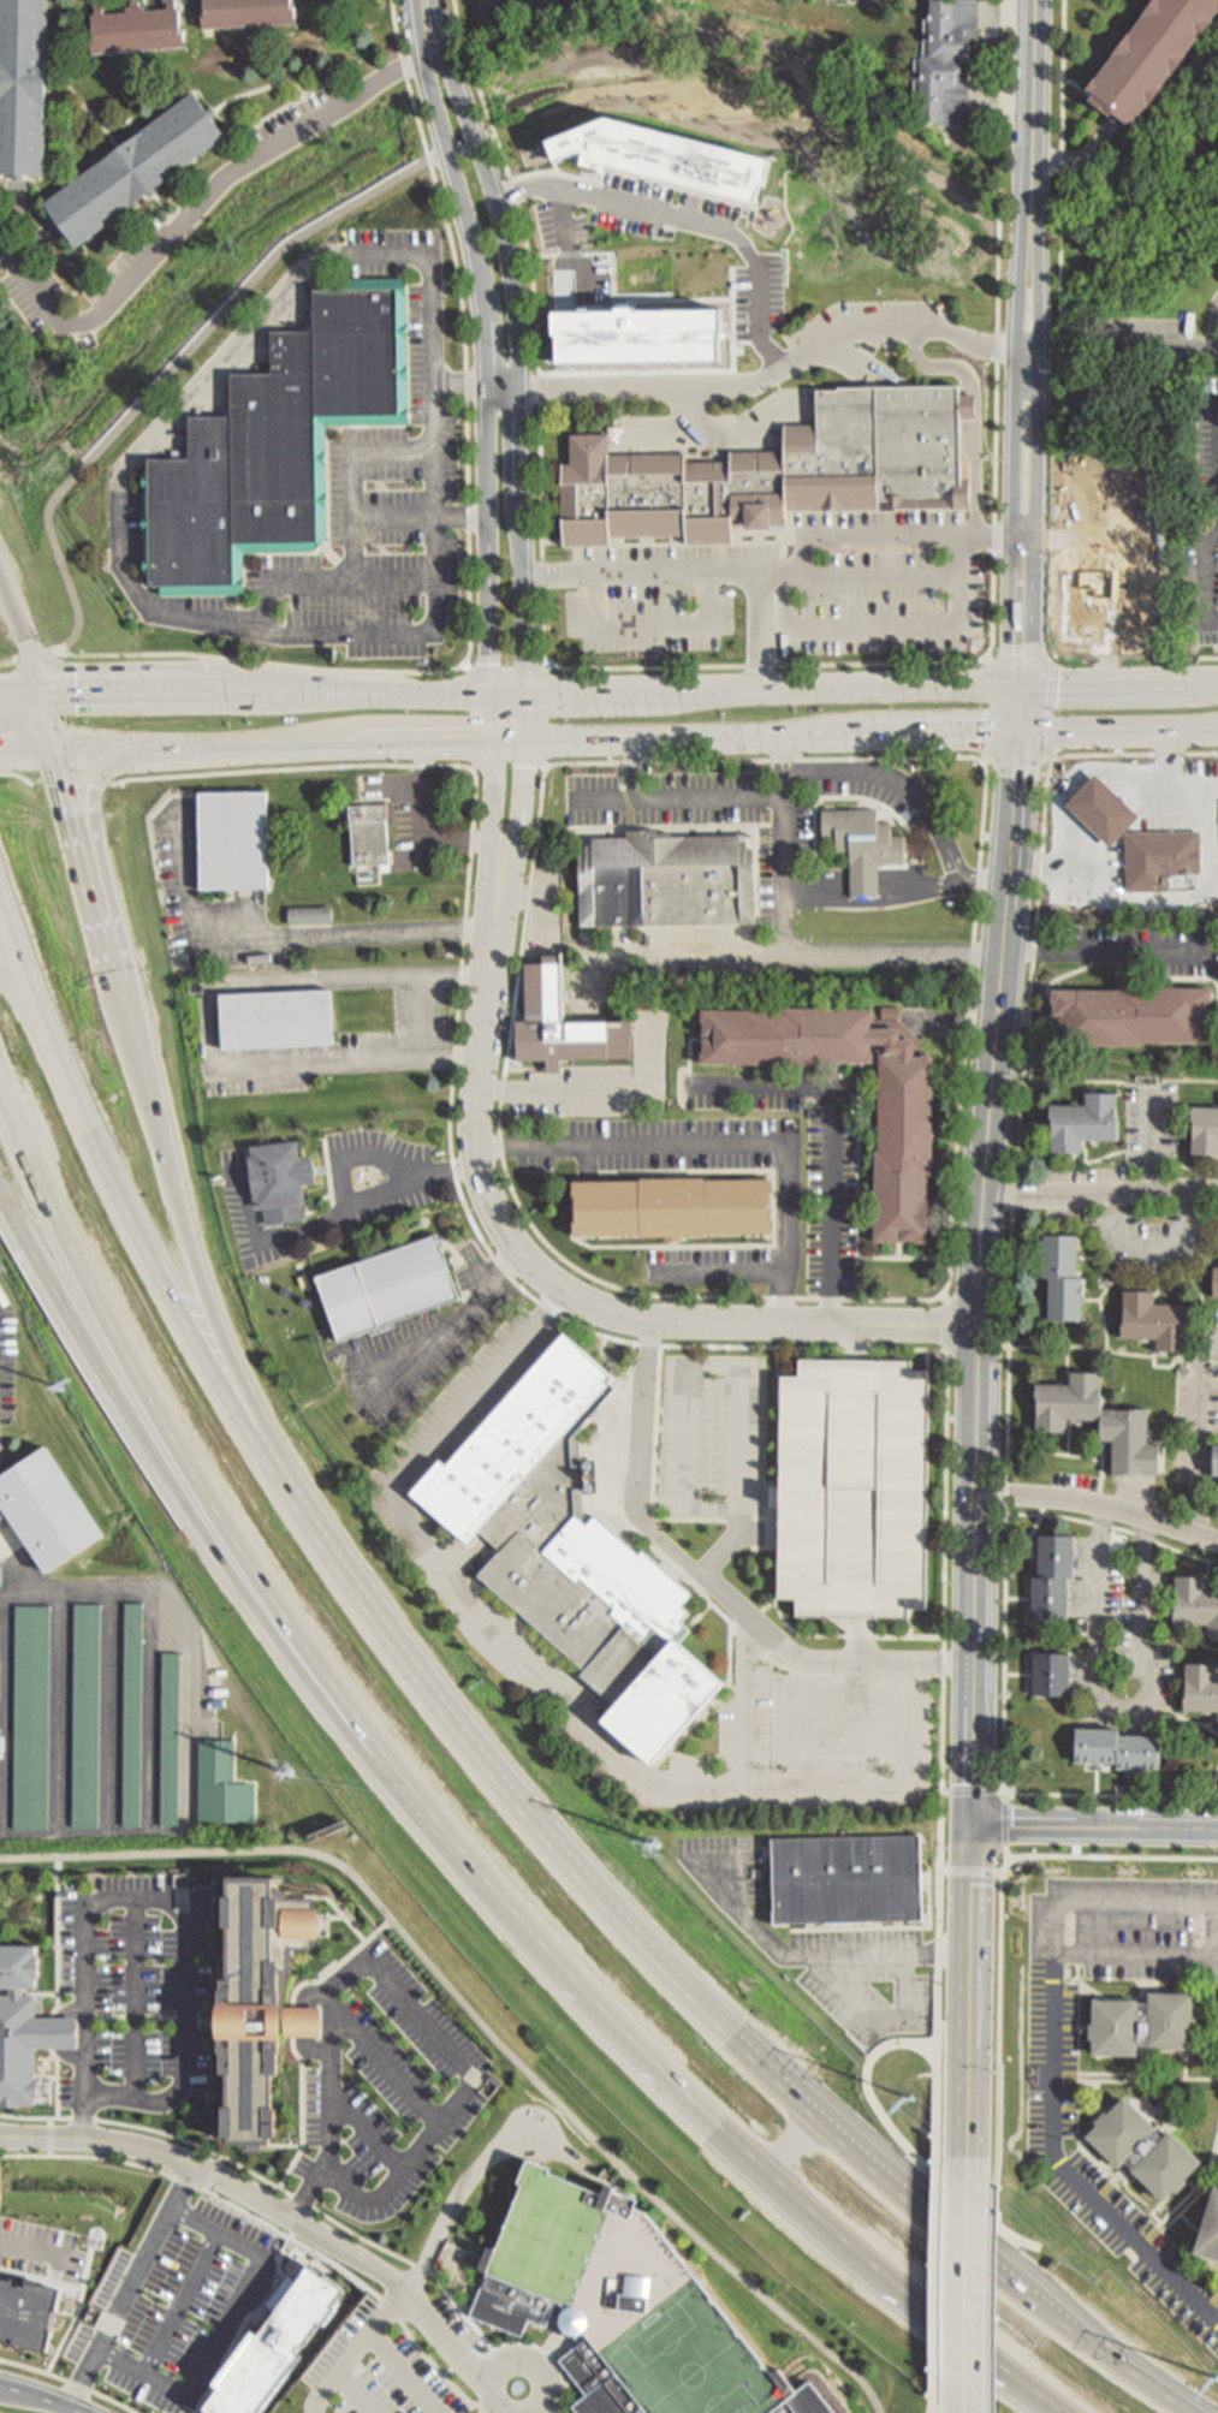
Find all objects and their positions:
building: (830, 0)
park: (528, 6)
building: (249, 13)
road: (394, 20)
building: (138, 30)
building: (1152, 57)
building: (946, 63)
road: (404, 67)
building: (24, 87)
road: (1079, 87)
building: (664, 156)
road: (1083, 160)
building: (136, 171)
road: (202, 203)
road: (689, 219)
road: (566, 248)
road: (4, 257)
building: (640, 304)
road: (1217, 335)
road: (519, 339)
road: (485, 341)
road: (1029, 341)
parking lot: (1152, 341)
road: (1164, 345)
road: (179, 363)
road: (766, 379)
road: (461, 387)
road: (980, 411)
road: (1059, 412)
road: (688, 415)
road: (969, 424)
building: (1100, 433)
road: (726, 441)
building: (273, 442)
road: (435, 446)
road: (394, 452)
building: (774, 474)
road: (120, 489)
parking lot: (373, 506)
road: (353, 517)
road: (396, 517)
road: (463, 517)
road: (991, 539)
road: (331, 555)
road: (782, 572)
road: (557, 575)
road: (877, 577)
building: (1093, 577)
road: (470, 580)
road: (355, 582)
parking lot: (792, 590)
building: (1129, 592)
road: (776, 601)
road: (271, 608)
road: (650, 626)
road: (887, 628)
road: (761, 629)
road: (24, 634)
road: (38, 655)
road: (10, 660)
road: (990, 660)
road: (1023, 662)
road: (468, 666)
road: (547, 666)
road: (760, 667)
road: (1119, 682)
traffic signals: (1023, 684)
road: (757, 687)
road: (268, 690)
road: (23, 697)
traffic signals: (46, 697)
road: (1022, 708)
road: (1048, 711)
road: (994, 712)
road: (525, 717)
road: (493, 718)
road: (54, 723)
road: (1119, 732)
traffic signals: (1021, 733)
road: (757, 738)
road: (340, 745)
road: (158, 748)
road: (31, 749)
traffic signals: (63, 749)
road: (96, 749)
road: (1017, 760)
road: (1053, 761)
road: (984, 762)
road: (546, 767)
road: (474, 768)
road: (638, 771)
road: (1077, 773)
road: (76, 775)
road: (22, 777)
road: (1213, 784)
road: (919, 796)
road: (679, 798)
building: (1104, 812)
gas station: (1104, 812)
road: (494, 815)
road: (521, 816)
parking lot: (414, 819)
building: (370, 836)
building: (236, 842)
building: (865, 846)
road: (97, 849)
building: (1184, 854)
road: (89, 855)
building: (1147, 863)
parking lot: (777, 872)
road: (1216, 879)
building: (667, 881)
road: (1195, 891)
road: (519, 897)
road: (878, 902)
road: (542, 904)
parking lot: (547, 910)
building: (311, 917)
road: (291, 938)
parking lot: (1136, 949)
road: (1023, 950)
road: (1127, 951)
road: (705, 956)
road: (785, 956)
road: (420, 1012)
building: (1131, 1017)
building: (279, 1021)
building: (565, 1024)
parking lot: (607, 1080)
road: (1192, 1082)
road: (1100, 1083)
road: (494, 1089)
road: (628, 1092)
building: (907, 1104)
parking lot: (1153, 1119)
building: (1085, 1123)
building: (1205, 1133)
road: (833, 1136)
road: (1152, 1141)
road: (725, 1145)
road: (1146, 1153)
road: (356, 1155)
building: (281, 1182)
road: (858, 1190)
road: (1100, 1195)
parking lot: (832, 1201)
building: (673, 1208)
road: (337, 1212)
road: (950, 1246)
road: (1155, 1252)
road: (904, 1259)
road: (725, 1271)
road: (510, 1278)
road: (980, 1278)
building: (1064, 1279)
building: (1216, 1284)
road: (557, 1285)
building: (388, 1289)
road: (1010, 1297)
road: (945, 1298)
road: (462, 1318)
building: (1159, 1323)
road: (950, 1332)
road: (856, 1342)
parking lot: (423, 1348)
road: (1082, 1349)
road: (928, 1360)
road: (1175, 1362)
road: (715, 1366)
road: (1069, 1366)
power tower: (61, 1387)
road: (266, 1421)
building: (1125, 1427)
road: (666, 1430)
road: (1198, 1431)
road: (687, 1437)
parking lot: (714, 1437)
road: (739, 1438)
road: (778, 1438)
road: (634, 1439)
road: (1070, 1440)
road: (1056, 1454)
building: (1216, 1461)
road: (665, 1463)
road: (1101, 1469)
road: (664, 1481)
building: (856, 1490)
parking lot: (856, 1490)
road: (654, 1493)
road: (637, 1500)
road: (664, 1500)
road: (1099, 1506)
road: (711, 1509)
building: (43, 1512)
road: (738, 1523)
road: (1115, 1529)
road: (733, 1540)
building: (574, 1552)
road: (1021, 1557)
road: (232, 1574)
road: (1210, 1575)
building: (1054, 1579)
parking lot: (445, 1580)
road: (708, 1583)
road: (1018, 1600)
building: (1195, 1604)
road: (768, 1605)
road: (701, 1617)
road: (731, 1624)
road: (911, 1624)
road: (178, 1628)
road: (824, 1636)
road: (1206, 1638)
road: (744, 1639)
road: (863, 1640)
road: (1188, 1641)
road: (505, 1646)
road: (759, 1647)
road: (1018, 1675)
road: (856, 1676)
building: (1052, 1676)
road: (855, 1688)
building: (1201, 1689)
road: (108, 1706)
road: (59, 1708)
road: (1112, 1708)
road: (149, 1713)
building: (84, 1717)
building: (131, 1717)
building: (30, 1718)
road: (1192, 1722)
road: (1212, 1722)
road: (747, 1723)
road: (0, 1725)
road: (802, 1736)
road: (855, 1736)
road: (907, 1737)
building: (168, 1741)
building: (1118, 1751)
road: (475, 1755)
power tower: (287, 1772)
road: (1098, 1783)
road: (1140, 1785)
road: (1216, 1787)
road: (1008, 1790)
road: (974, 1793)
road: (438, 1826)
traffic signals: (973, 1826)
road: (1095, 1826)
road: (1005, 1827)
power tower: (656, 1843)
building: (849, 1880)
road: (1002, 1918)
road: (1214, 1933)
road: (183, 1951)
road: (819, 1954)
road: (1137, 1956)
parking lot: (143, 1979)
parking lot: (867, 1983)
road: (133, 1999)
building: (254, 2002)
road: (973, 2002)
road: (872, 2017)
road: (303, 2025)
building: (298, 2026)
road: (480, 2026)
building: (1143, 2026)
building: (16, 2029)
road: (59, 2034)
building: (52, 2035)
road: (940, 2035)
parking lot: (1054, 2062)
road: (386, 2066)
road: (1187, 2066)
road: (1052, 2069)
road: (85, 2070)
road: (1181, 2079)
road: (467, 2087)
parking lot: (388, 2096)
power tower: (911, 2098)
road: (932, 2105)
road: (323, 2108)
road: (366, 2132)
road: (50, 2138)
road: (899, 2141)
building: (1145, 2151)
road: (800, 2152)
road: (83, 2157)
road: (1210, 2168)
road: (215, 2174)
road: (272, 2183)
road: (269, 2205)
road: (1153, 2213)
road: (1180, 2216)
road: (1168, 2218)
road: (1189, 2223)
building: (1210, 2233)
road: (283, 2234)
road: (34, 2251)
parking lot: (40, 2251)
road: (422, 2263)
road: (41, 2281)
road: (987, 2281)
road: (972, 2282)
road: (929, 2286)
road: (132, 2287)
road: (180, 2304)
parking lot: (173, 2305)
building: (625, 2307)
road: (76, 2314)
building: (28, 2316)
road: (242, 2323)
road: (224, 2326)
building: (275, 2344)
road: (517, 2364)
road: (405, 2372)
parking lot: (392, 2375)
power tower: (1217, 2378)
road: (69, 2382)
road: (353, 2393)
road: (985, 2395)
road: (40, 2397)
road: (970, 2400)
road: (468, 2406)
road: (925, 2409)
road: (498, 2411)

